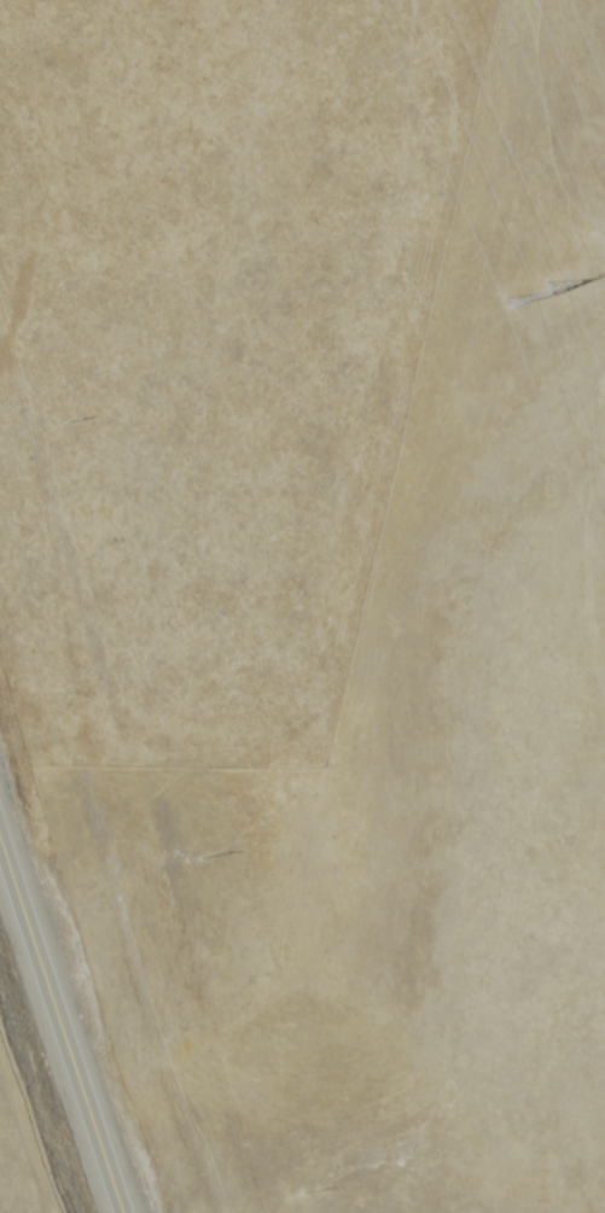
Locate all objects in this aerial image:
power tower: (511, 268)
road: (60, 1025)

